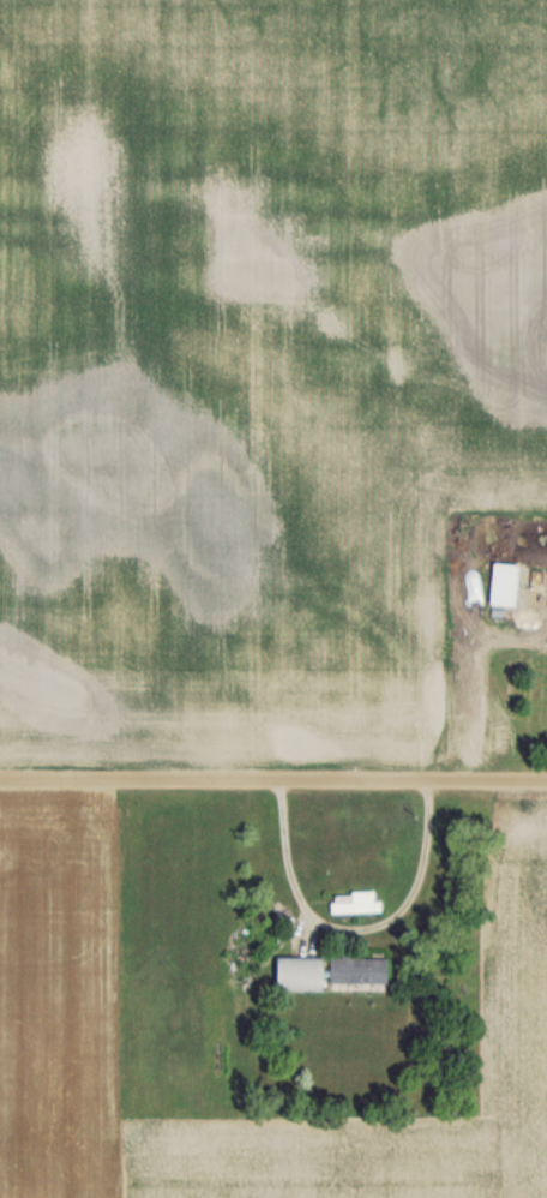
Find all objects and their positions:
road: (272, 778)
building: (354, 902)
road: (351, 928)
building: (355, 969)
building: (297, 972)

